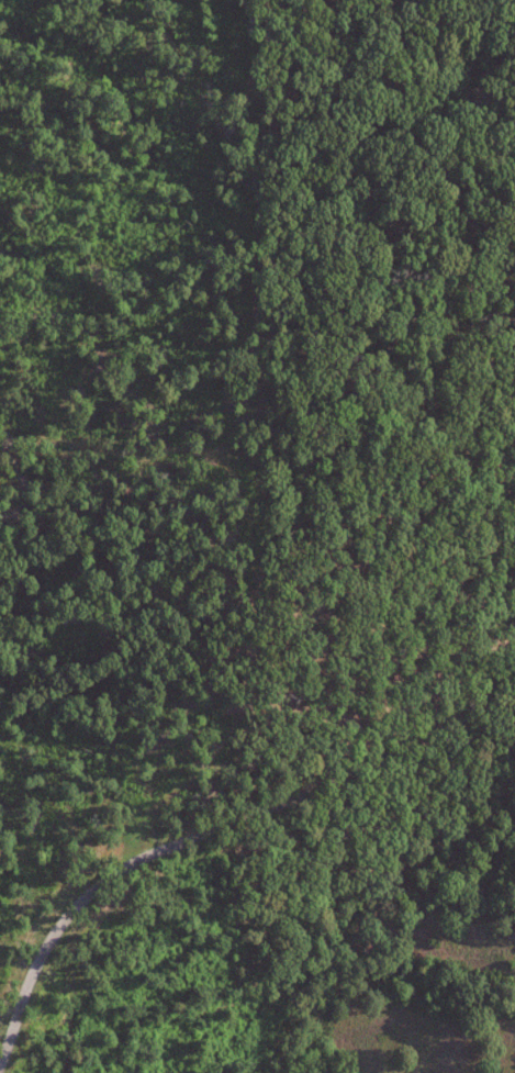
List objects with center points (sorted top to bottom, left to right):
road: (314, 444)
road: (222, 824)

